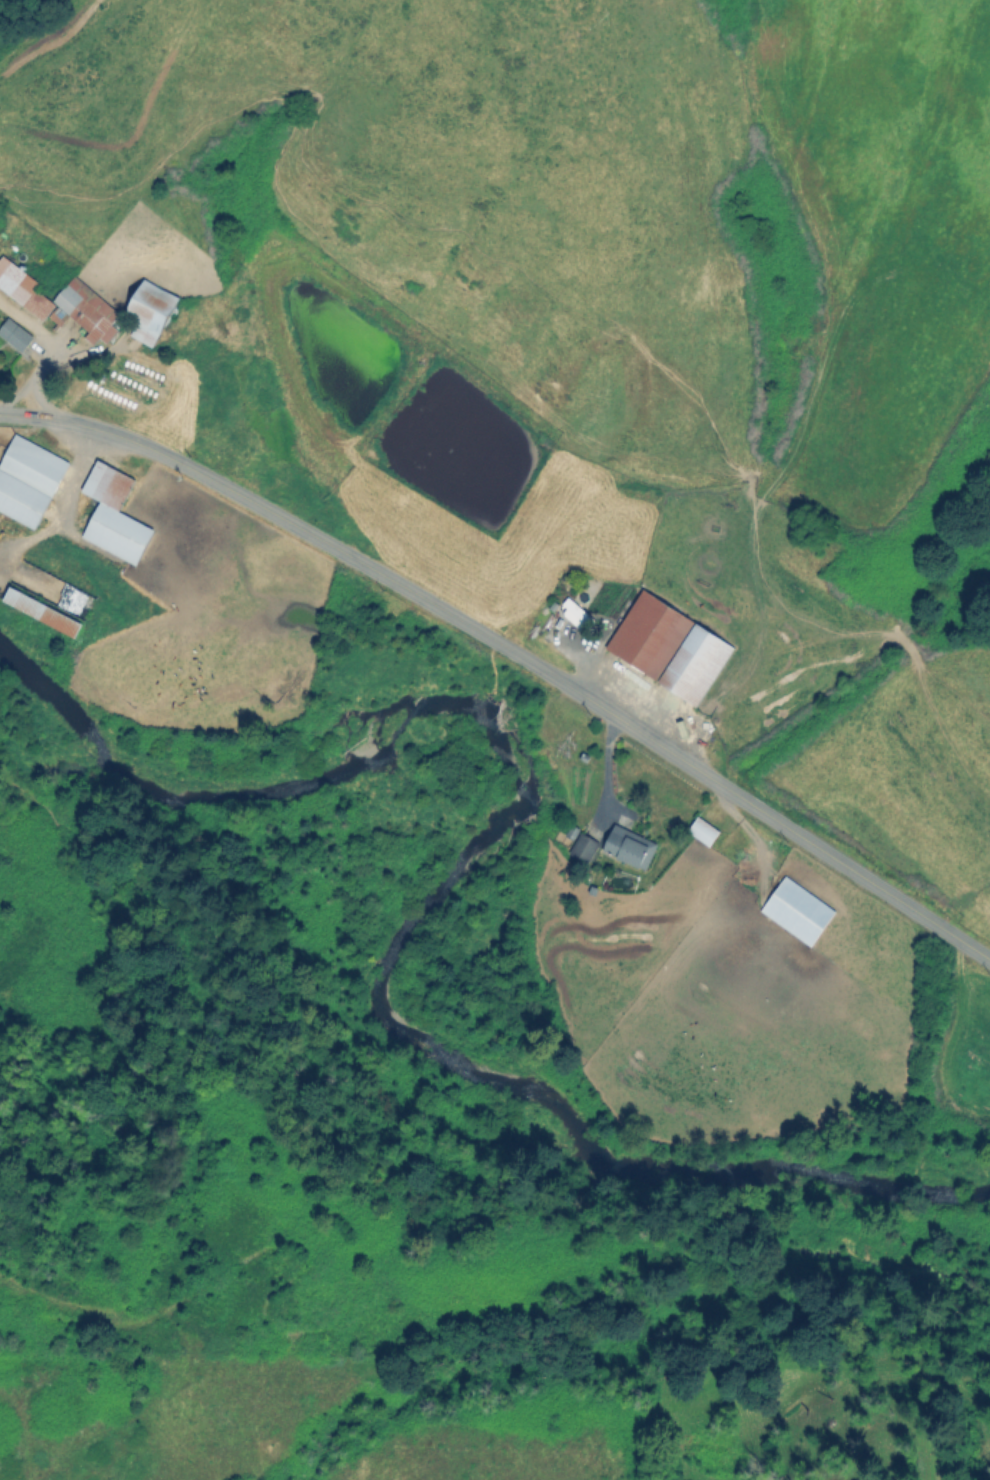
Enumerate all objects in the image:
building: (23, 288)
building: (86, 309)
building: (149, 310)
building: (14, 334)
building: (27, 479)
building: (112, 514)
building: (41, 611)
building: (573, 613)
building: (668, 647)
road: (508, 655)
road: (601, 771)
building: (702, 830)
building: (628, 846)
building: (583, 847)
building: (796, 910)

